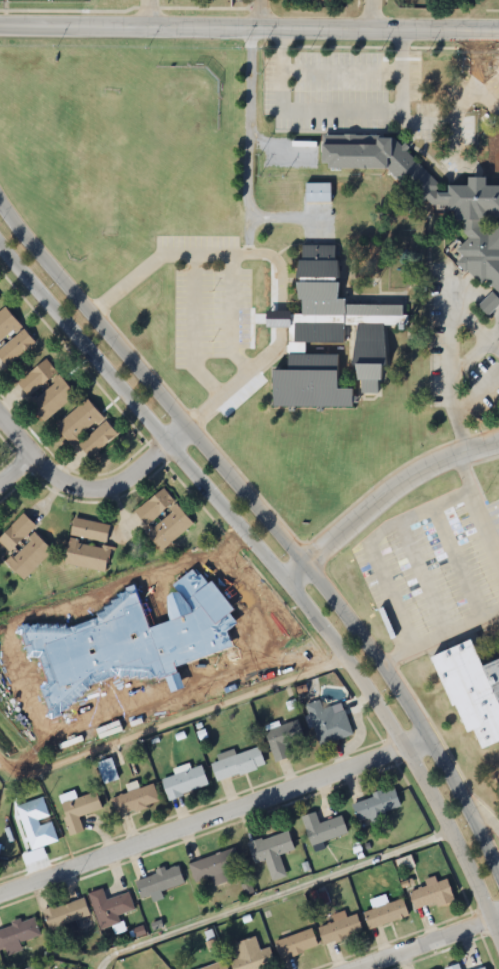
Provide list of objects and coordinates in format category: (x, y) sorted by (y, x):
road: (258, 16)
road: (371, 17)
road: (249, 32)
building: (474, 189)
building: (317, 193)
building: (317, 262)
building: (6, 324)
building: (16, 348)
building: (370, 348)
building: (37, 378)
building: (51, 399)
building: (87, 430)
road: (16, 468)
road: (90, 490)
road: (385, 496)
building: (162, 519)
road: (269, 522)
building: (90, 530)
building: (23, 547)
building: (87, 555)
road: (278, 568)
building: (250, 635)
building: (474, 692)
road: (171, 722)
building: (328, 724)
building: (283, 739)
building: (238, 764)
building: (109, 769)
building: (184, 783)
building: (134, 800)
building: (376, 805)
building: (78, 811)
road: (216, 813)
road: (487, 819)
building: (323, 828)
building: (37, 834)
building: (0, 845)
building: (272, 853)
building: (215, 867)
building: (159, 882)
building: (431, 895)
road: (274, 896)
building: (110, 908)
building: (66, 914)
building: (385, 914)
building: (339, 928)
building: (17, 936)
road: (425, 942)
building: (296, 944)
building: (251, 956)
building: (218, 967)
building: (454, 967)
building: (33, 968)
building: (484, 968)

